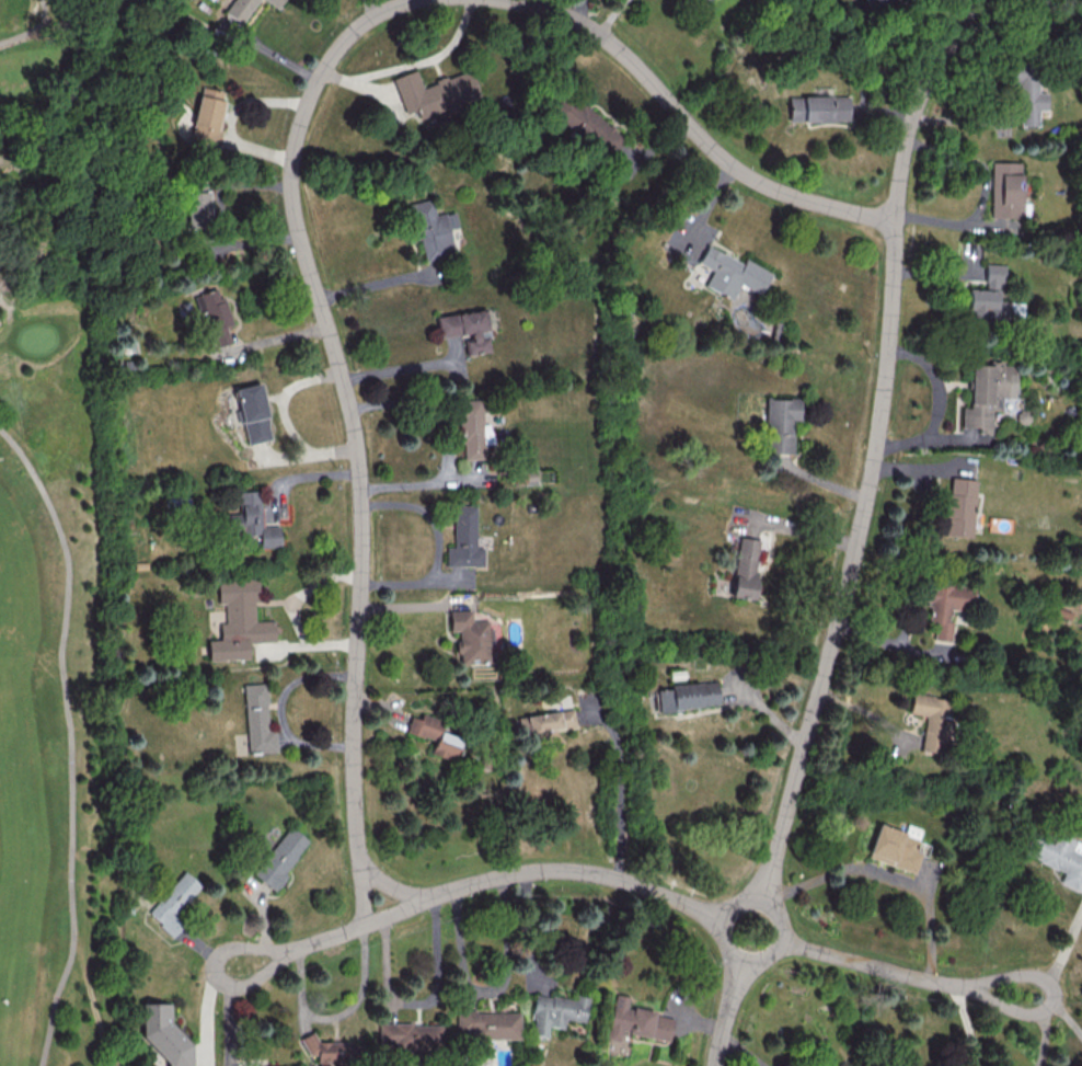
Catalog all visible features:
building: (275, 2)
building: (873, 3)
building: (239, 9)
road: (33, 32)
road: (414, 66)
building: (433, 92)
building: (1026, 95)
building: (817, 108)
building: (206, 116)
building: (585, 125)
road: (689, 127)
building: (1003, 191)
building: (196, 204)
road: (951, 222)
building: (430, 230)
building: (729, 273)
road: (377, 286)
building: (987, 299)
building: (214, 313)
building: (464, 328)
building: (986, 393)
building: (252, 413)
road: (287, 422)
building: (779, 424)
building: (469, 427)
road: (352, 428)
road: (449, 443)
building: (957, 507)
building: (250, 520)
road: (856, 530)
building: (463, 538)
park: (58, 562)
building: (745, 566)
building: (945, 605)
road: (293, 610)
building: (238, 621)
building: (470, 637)
building: (686, 696)
road: (281, 709)
building: (257, 719)
building: (931, 720)
building: (546, 721)
building: (434, 735)
road: (70, 741)
road: (620, 795)
building: (894, 848)
building: (280, 857)
building: (1059, 857)
road: (887, 878)
road: (391, 886)
building: (174, 903)
road: (694, 908)
road: (531, 929)
road: (301, 948)
road: (1055, 999)
building: (554, 1011)
building: (636, 1021)
building: (486, 1024)
road: (968, 1024)
building: (408, 1036)
building: (329, 1052)

